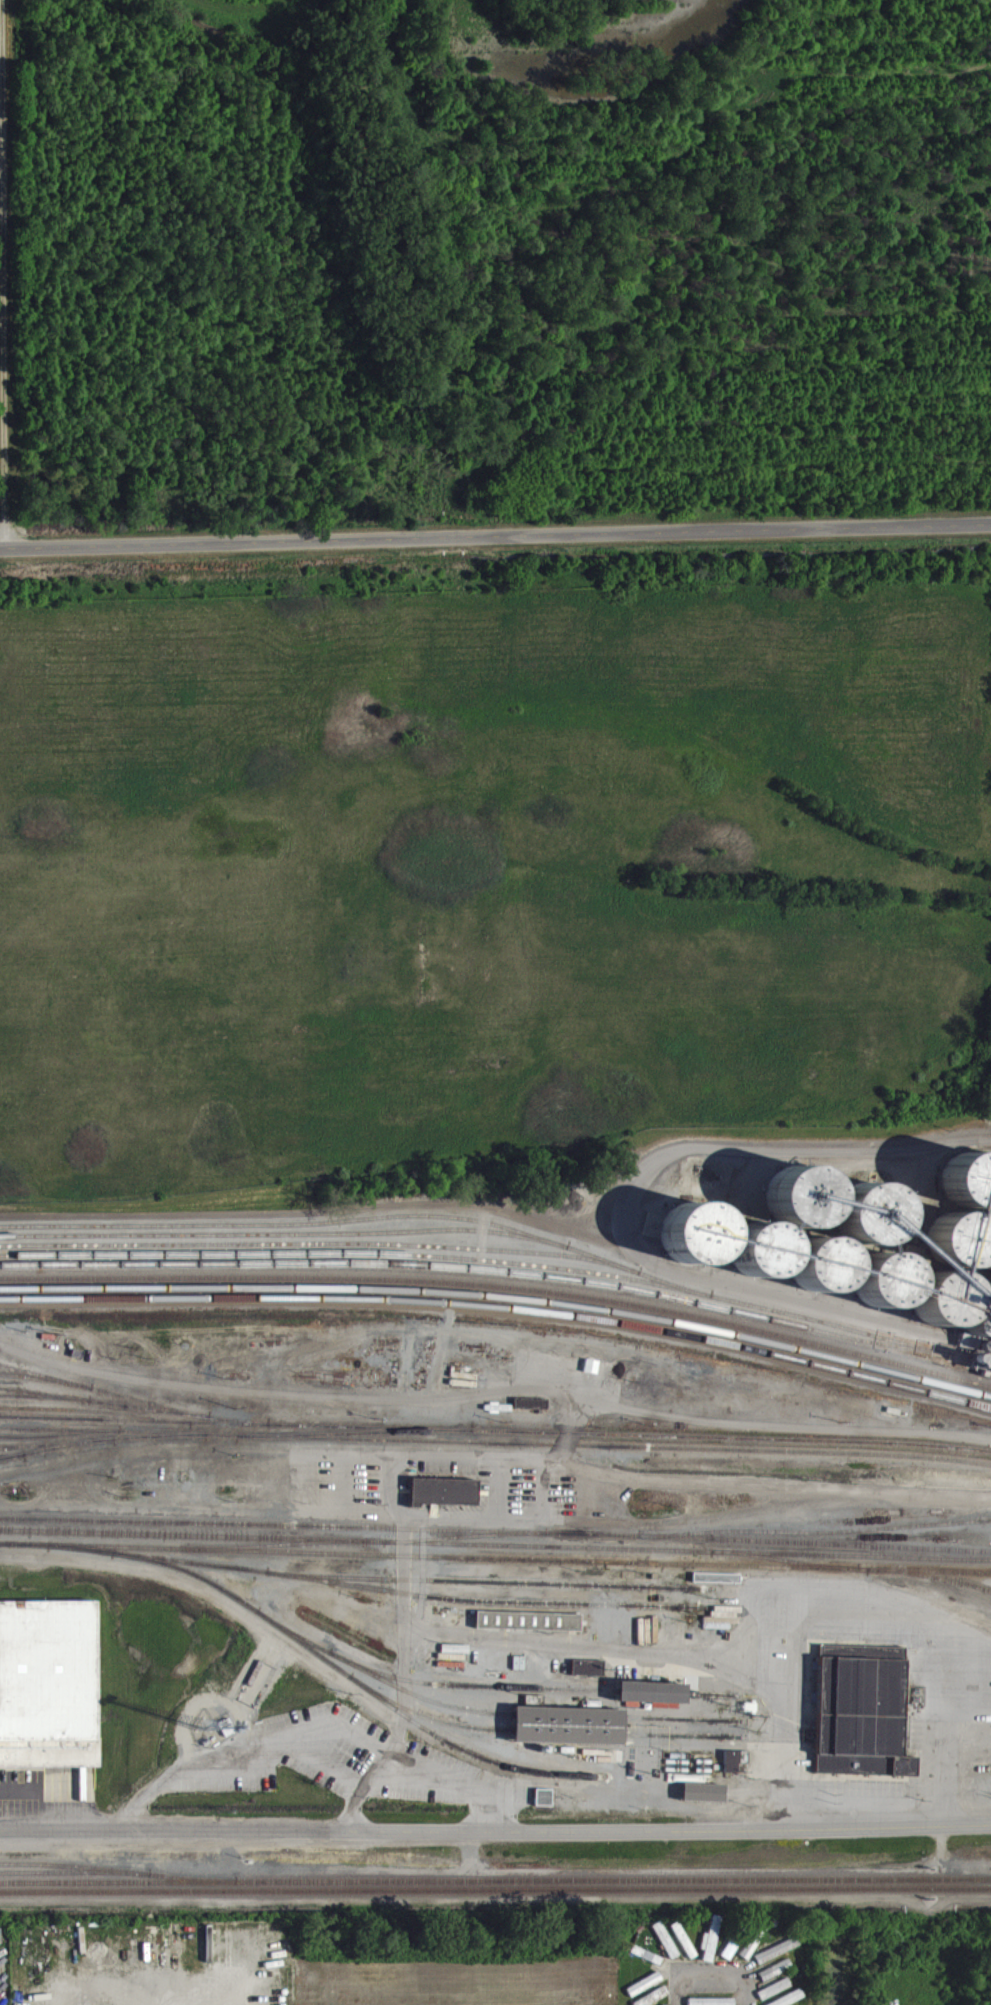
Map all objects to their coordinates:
road: (2, 273)
road: (495, 535)
road: (636, 1178)
building: (800, 1204)
railway: (363, 1227)
railway: (285, 1243)
railway: (322, 1252)
railway: (501, 1270)
railway: (480, 1278)
railway: (500, 1291)
railway: (500, 1295)
railway: (500, 1305)
railway: (500, 1315)
road: (444, 1364)
railway: (47, 1385)
road: (494, 1401)
railway: (46, 1407)
railway: (105, 1410)
railway: (135, 1424)
railway: (96, 1427)
railway: (105, 1439)
railway: (493, 1439)
railway: (61, 1443)
railway: (494, 1451)
railway: (59, 1453)
railway: (24, 1455)
railway: (13, 1464)
building: (440, 1490)
parking lot: (340, 1493)
road: (787, 1494)
road: (504, 1499)
road: (547, 1502)
road: (724, 1529)
road: (464, 1530)
railway: (495, 1539)
railway: (821, 1541)
railway: (468, 1544)
railway: (495, 1552)
railway: (183, 1557)
railway: (591, 1569)
railway: (789, 1569)
railway: (931, 1585)
building: (718, 1586)
railway: (494, 1590)
railway: (382, 1597)
road: (877, 1603)
building: (724, 1625)
building: (529, 1629)
road: (876, 1631)
building: (589, 1676)
road: (407, 1677)
building: (47, 1682)
railway: (382, 1686)
railway: (358, 1690)
railway: (472, 1693)
building: (652, 1700)
railway: (652, 1700)
railway: (713, 1703)
road: (789, 1704)
building: (862, 1719)
railway: (569, 1724)
railway: (428, 1726)
railway: (686, 1728)
building: (568, 1734)
road: (937, 1738)
road: (319, 1739)
railway: (568, 1740)
railway: (685, 1744)
road: (680, 1751)
road: (277, 1769)
building: (732, 1769)
road: (706, 1795)
building: (704, 1801)
building: (544, 1805)
road: (877, 1809)
railway: (343, 1817)
road: (495, 1838)
railway: (72, 1863)
railway: (119, 1871)
railway: (495, 1878)
railway: (495, 1888)
building: (711, 1949)
road: (711, 1972)
building: (775, 1997)
building: (797, 2002)

